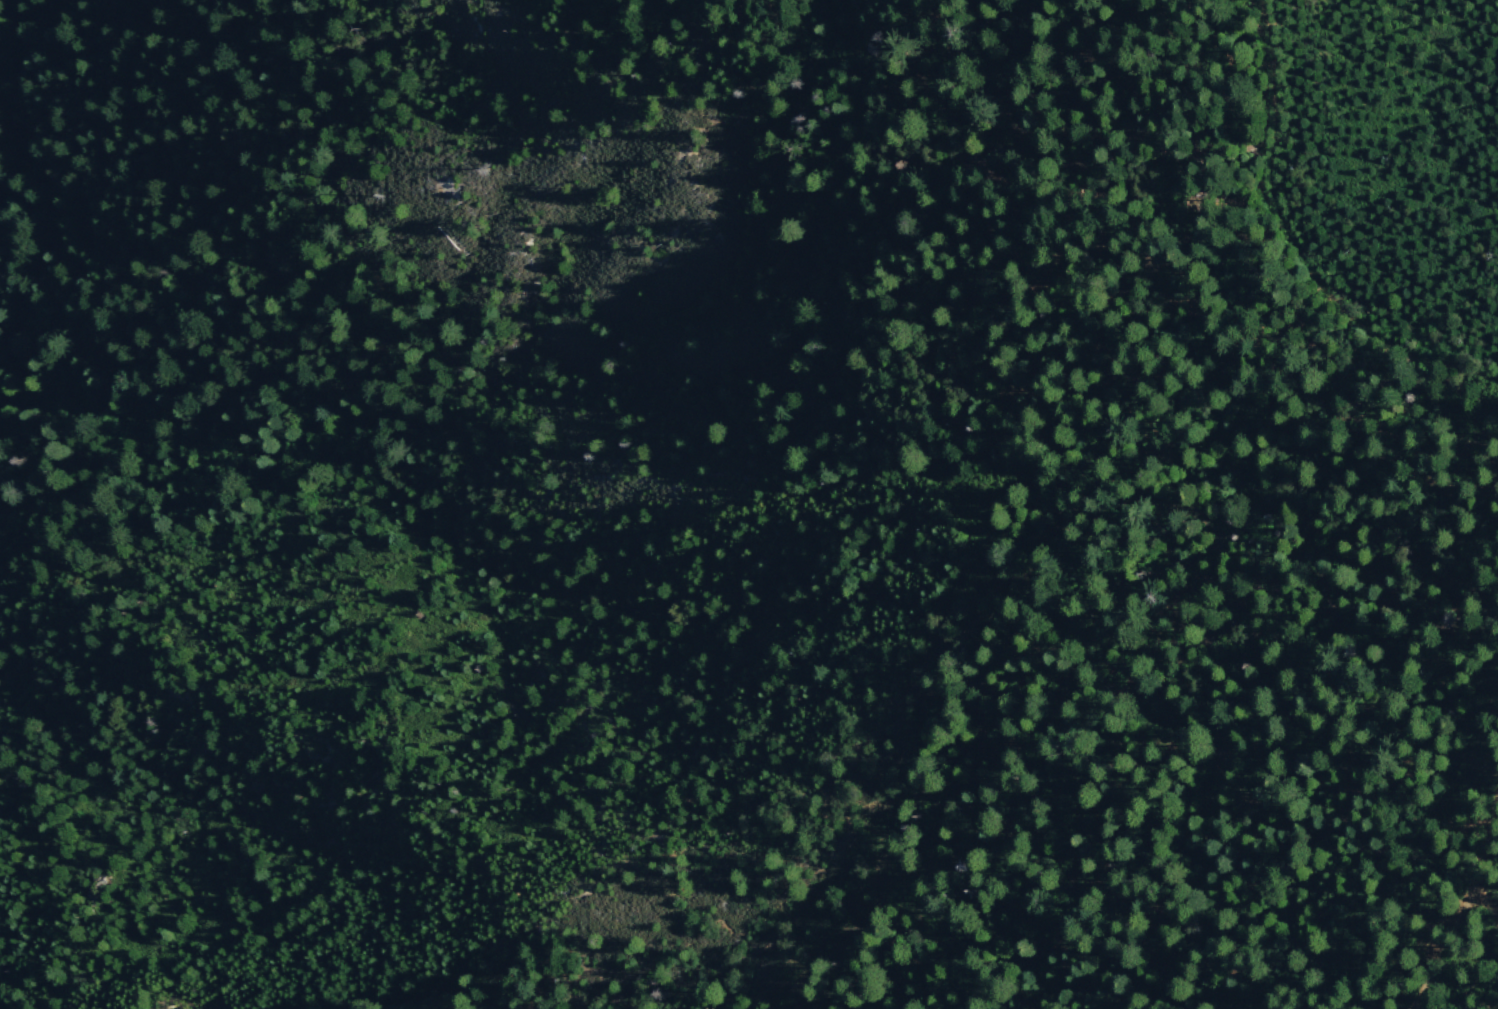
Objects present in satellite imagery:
road: (1483, 908)
road: (1459, 917)

